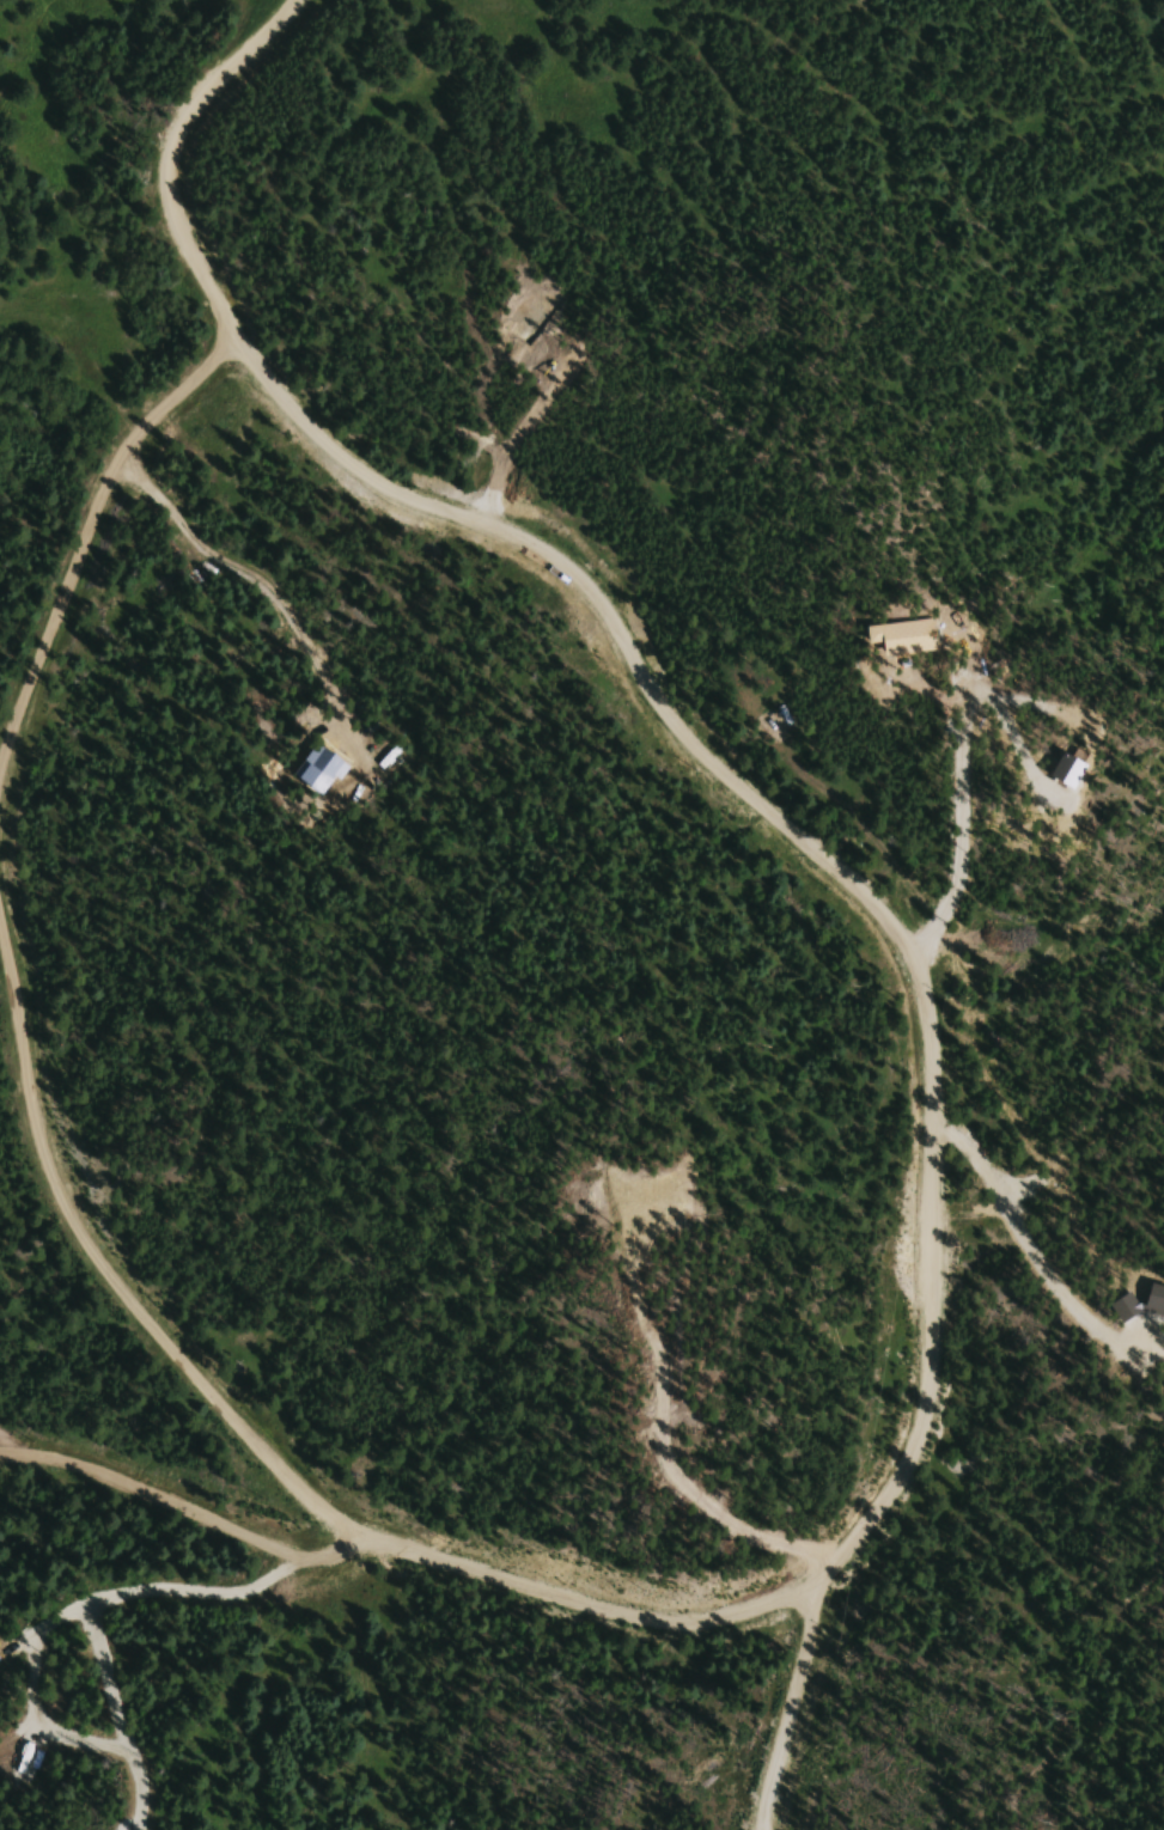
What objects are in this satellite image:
road: (188, 379)
road: (100, 1238)

